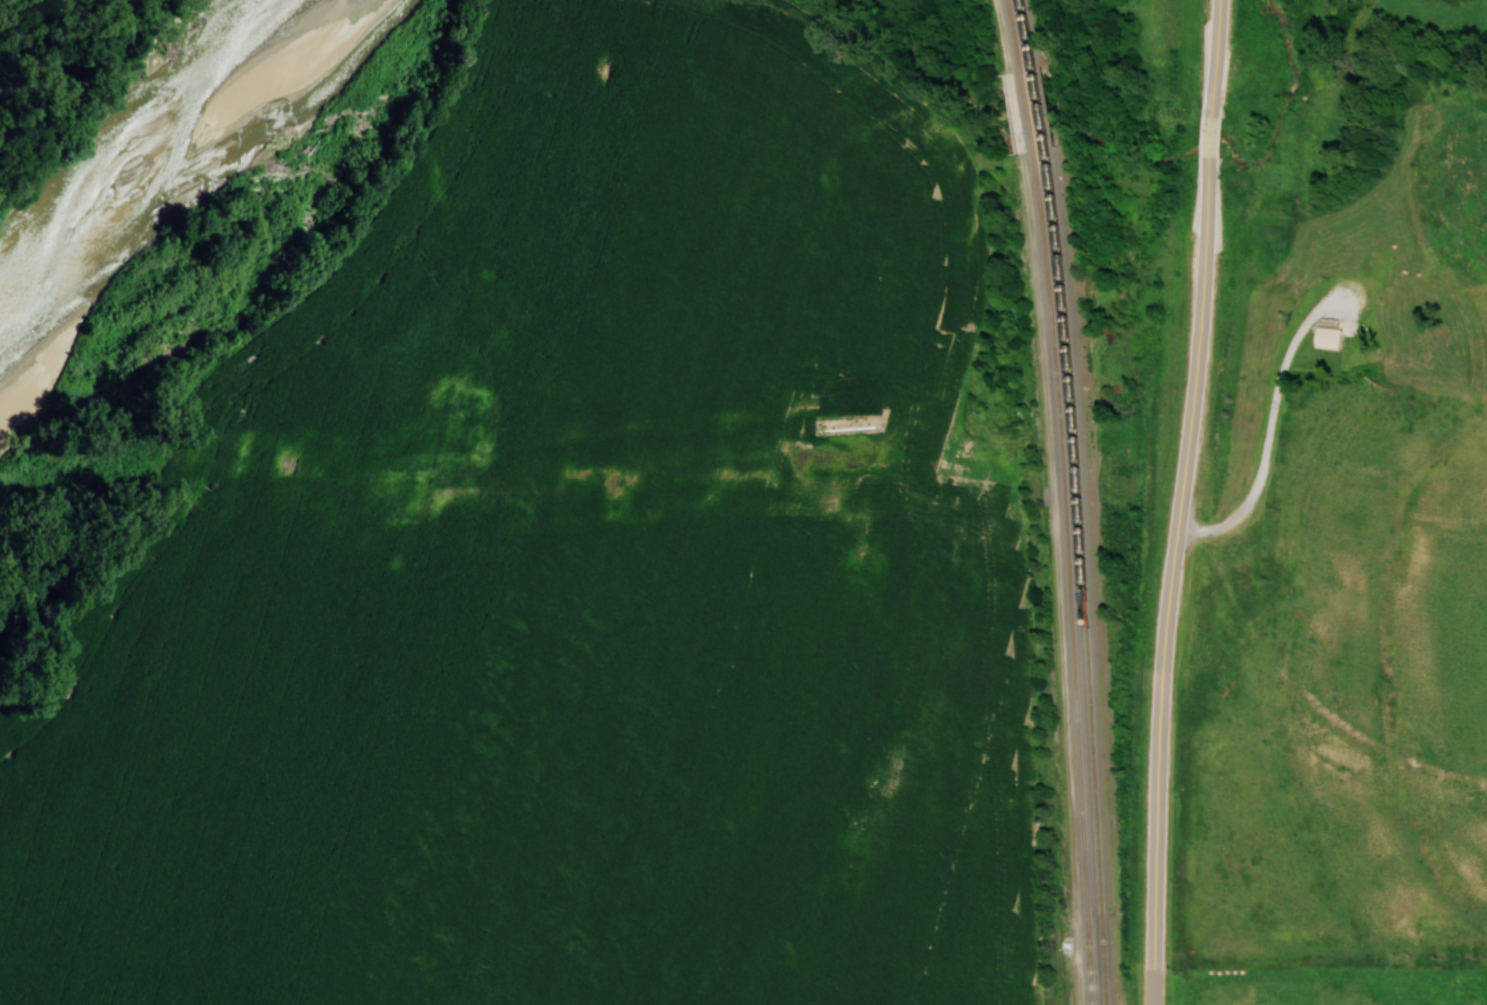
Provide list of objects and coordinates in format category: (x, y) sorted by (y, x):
river: (184, 160)
building: (1327, 338)
road: (1267, 440)
railway: (1062, 500)
railway: (1075, 501)
road: (1177, 501)

